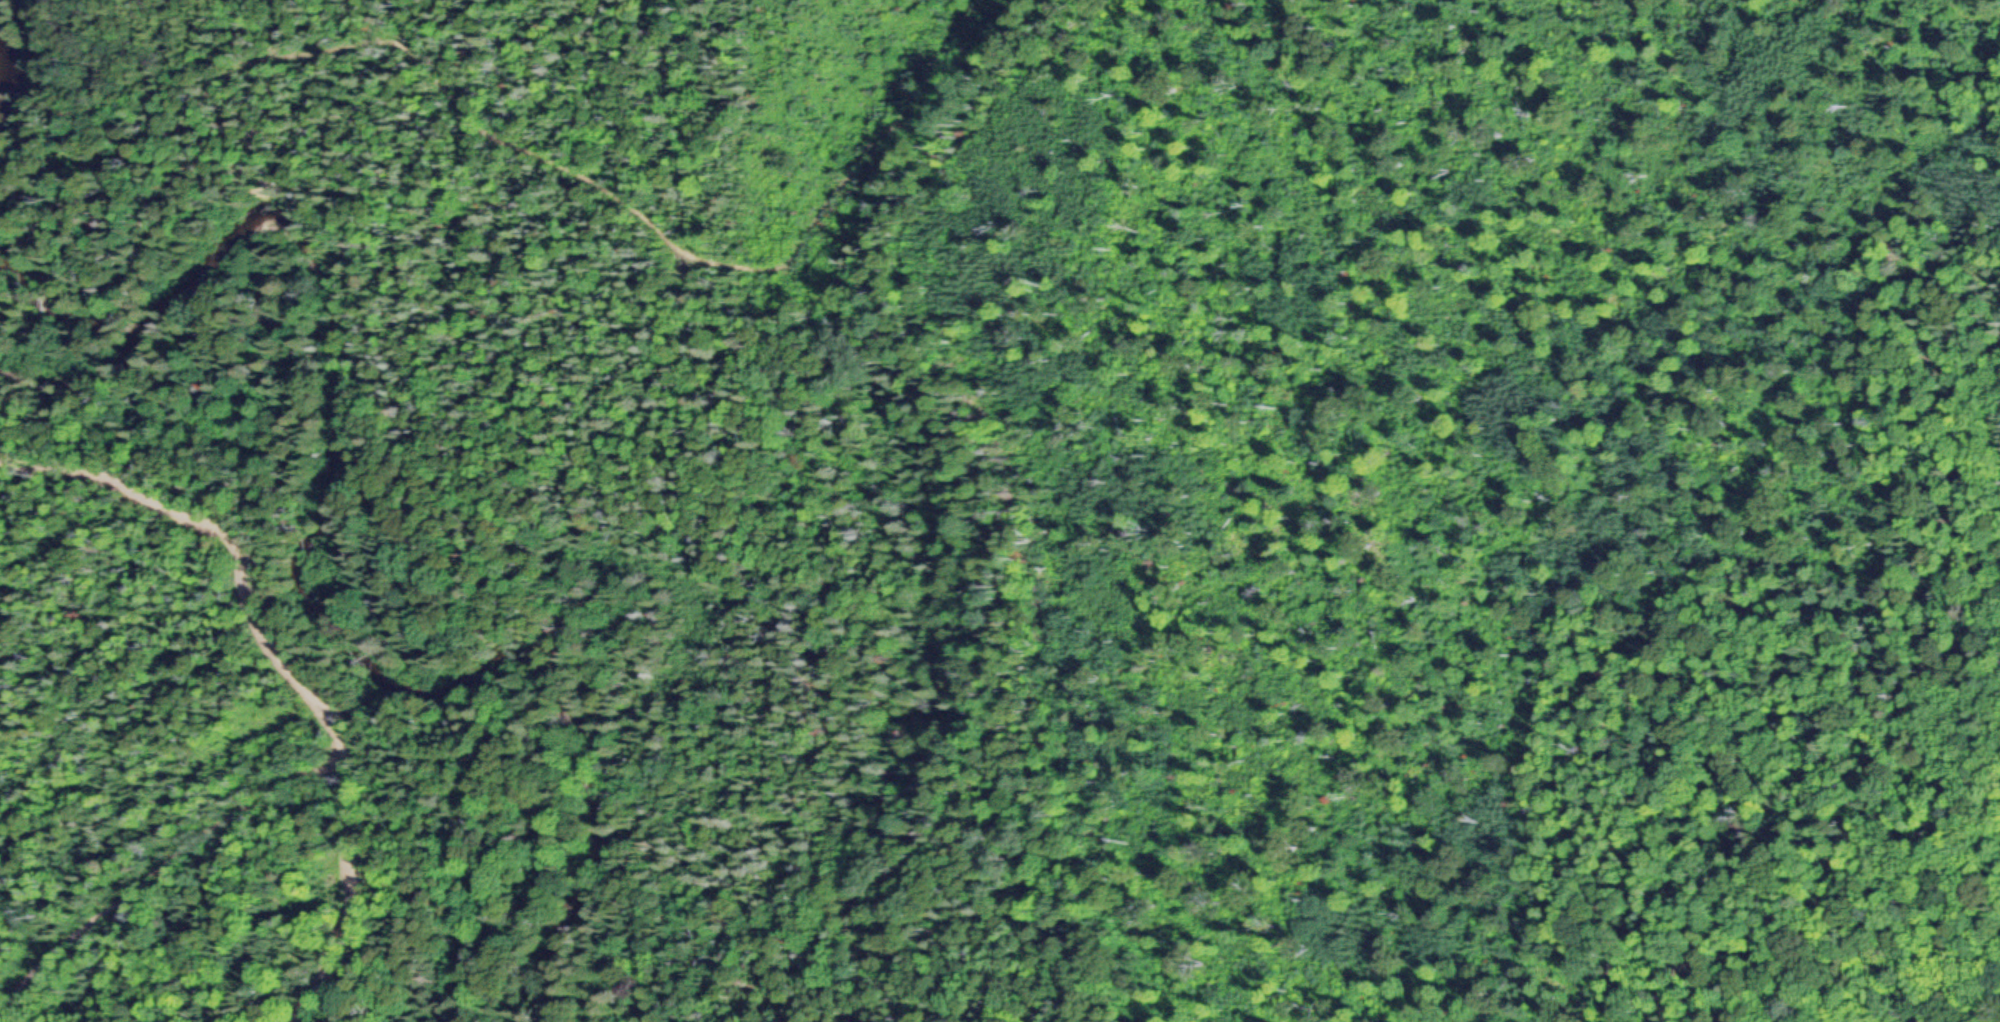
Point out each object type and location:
road: (595, 195)
park: (63, 259)
river: (305, 548)
road: (288, 655)
road: (163, 867)

